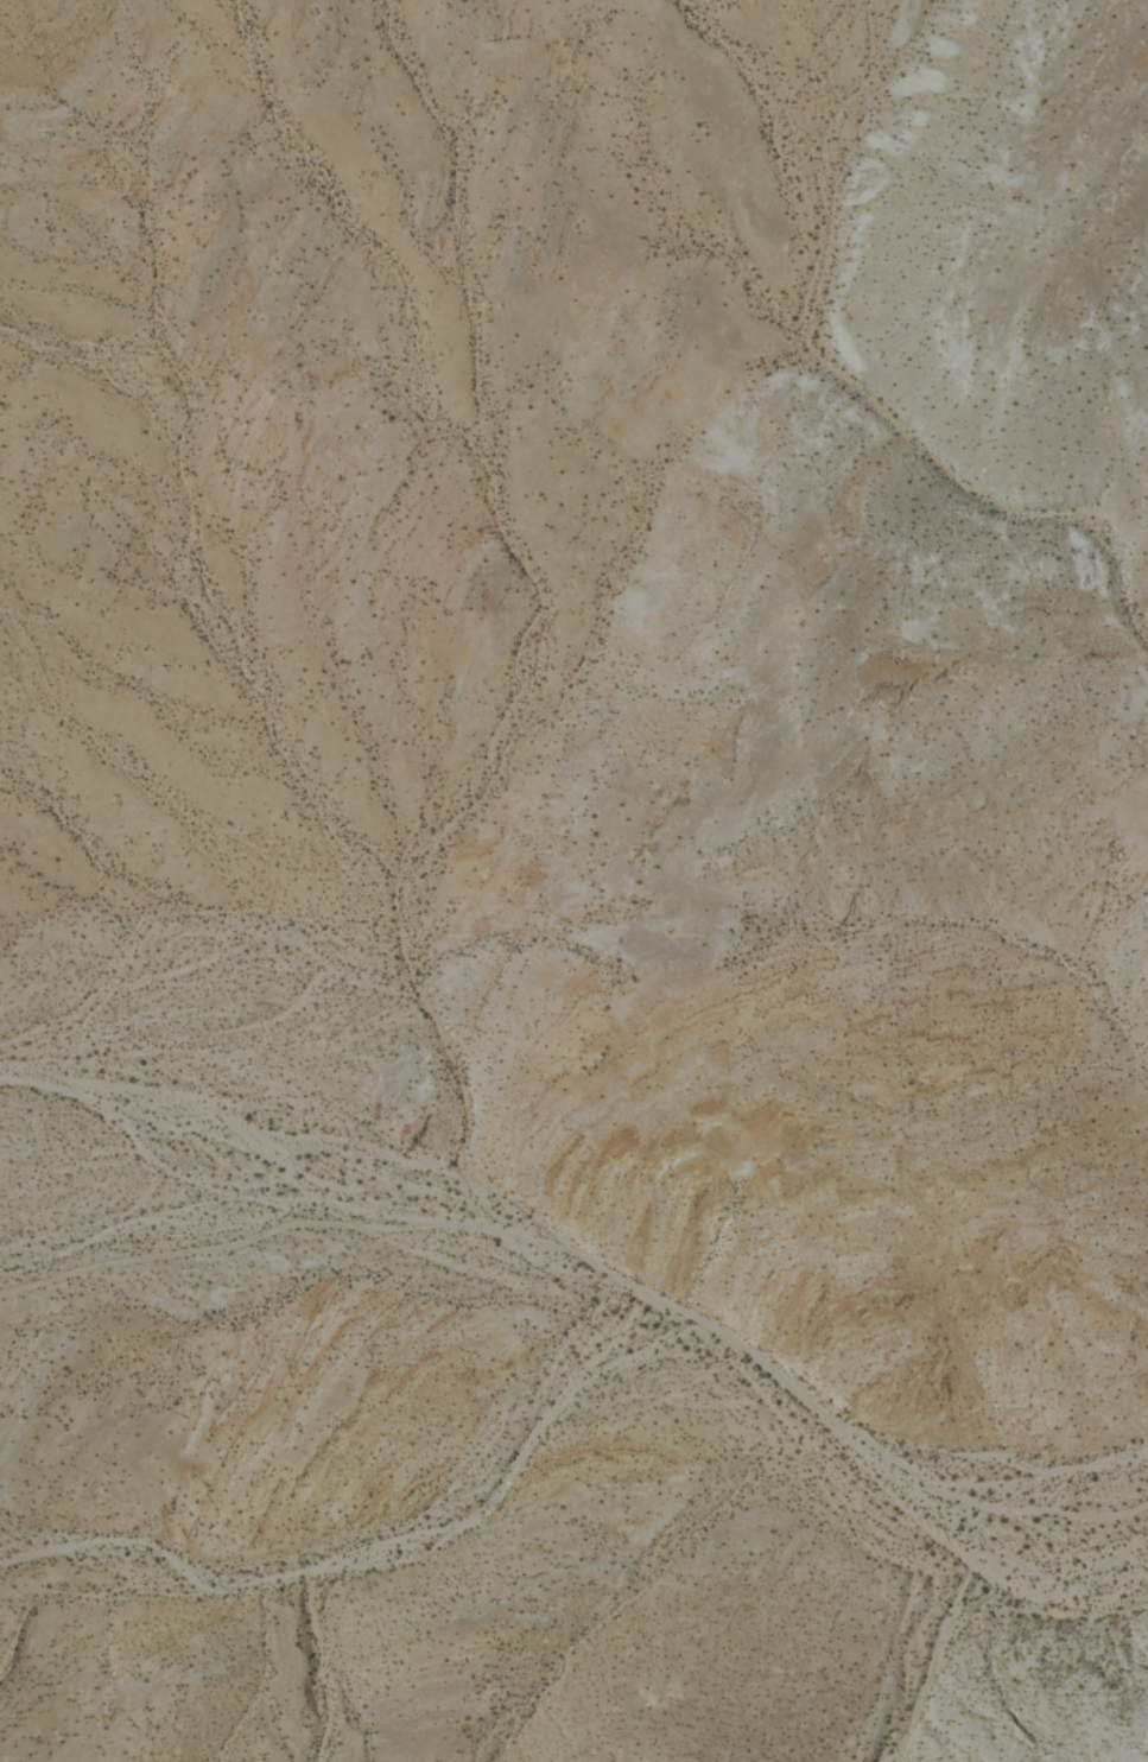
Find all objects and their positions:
road: (585, 1297)

